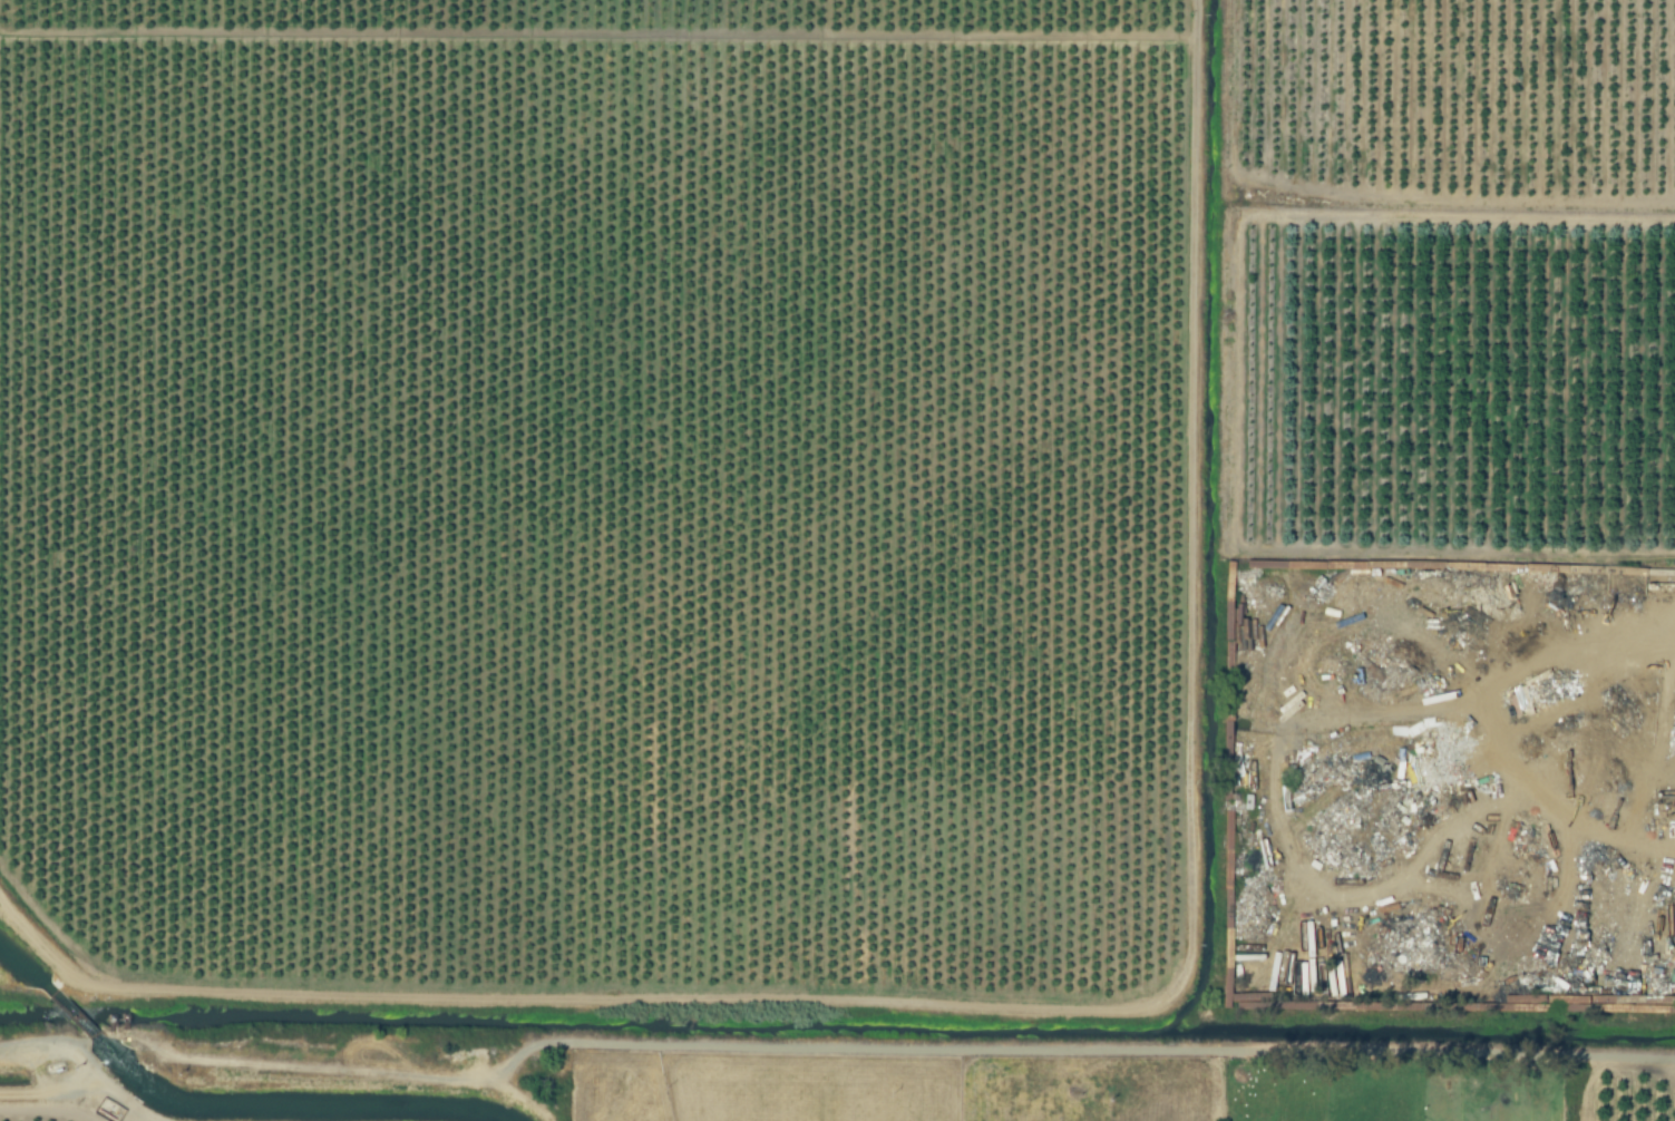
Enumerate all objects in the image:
road: (27, 1052)
road: (106, 1083)

